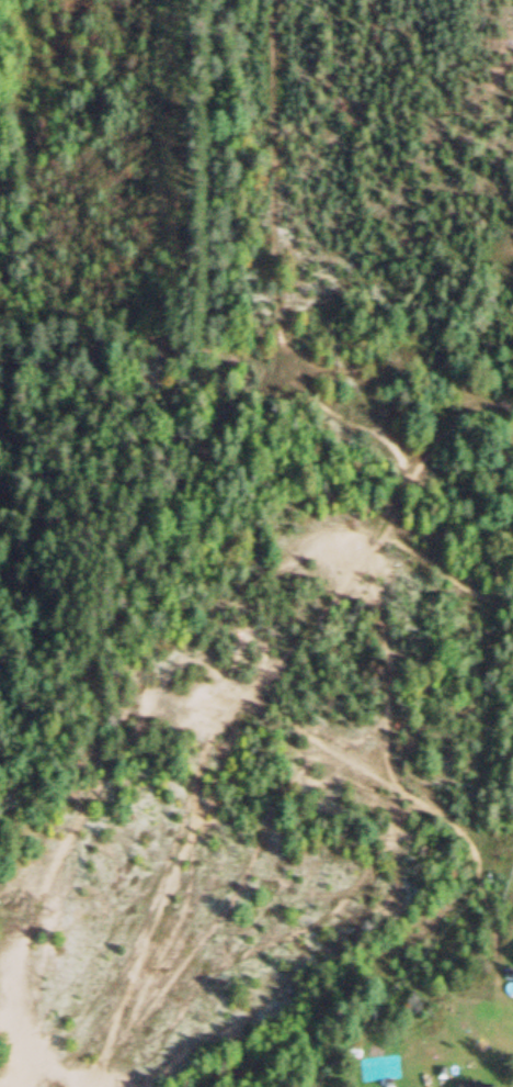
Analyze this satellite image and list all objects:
road: (354, 570)

